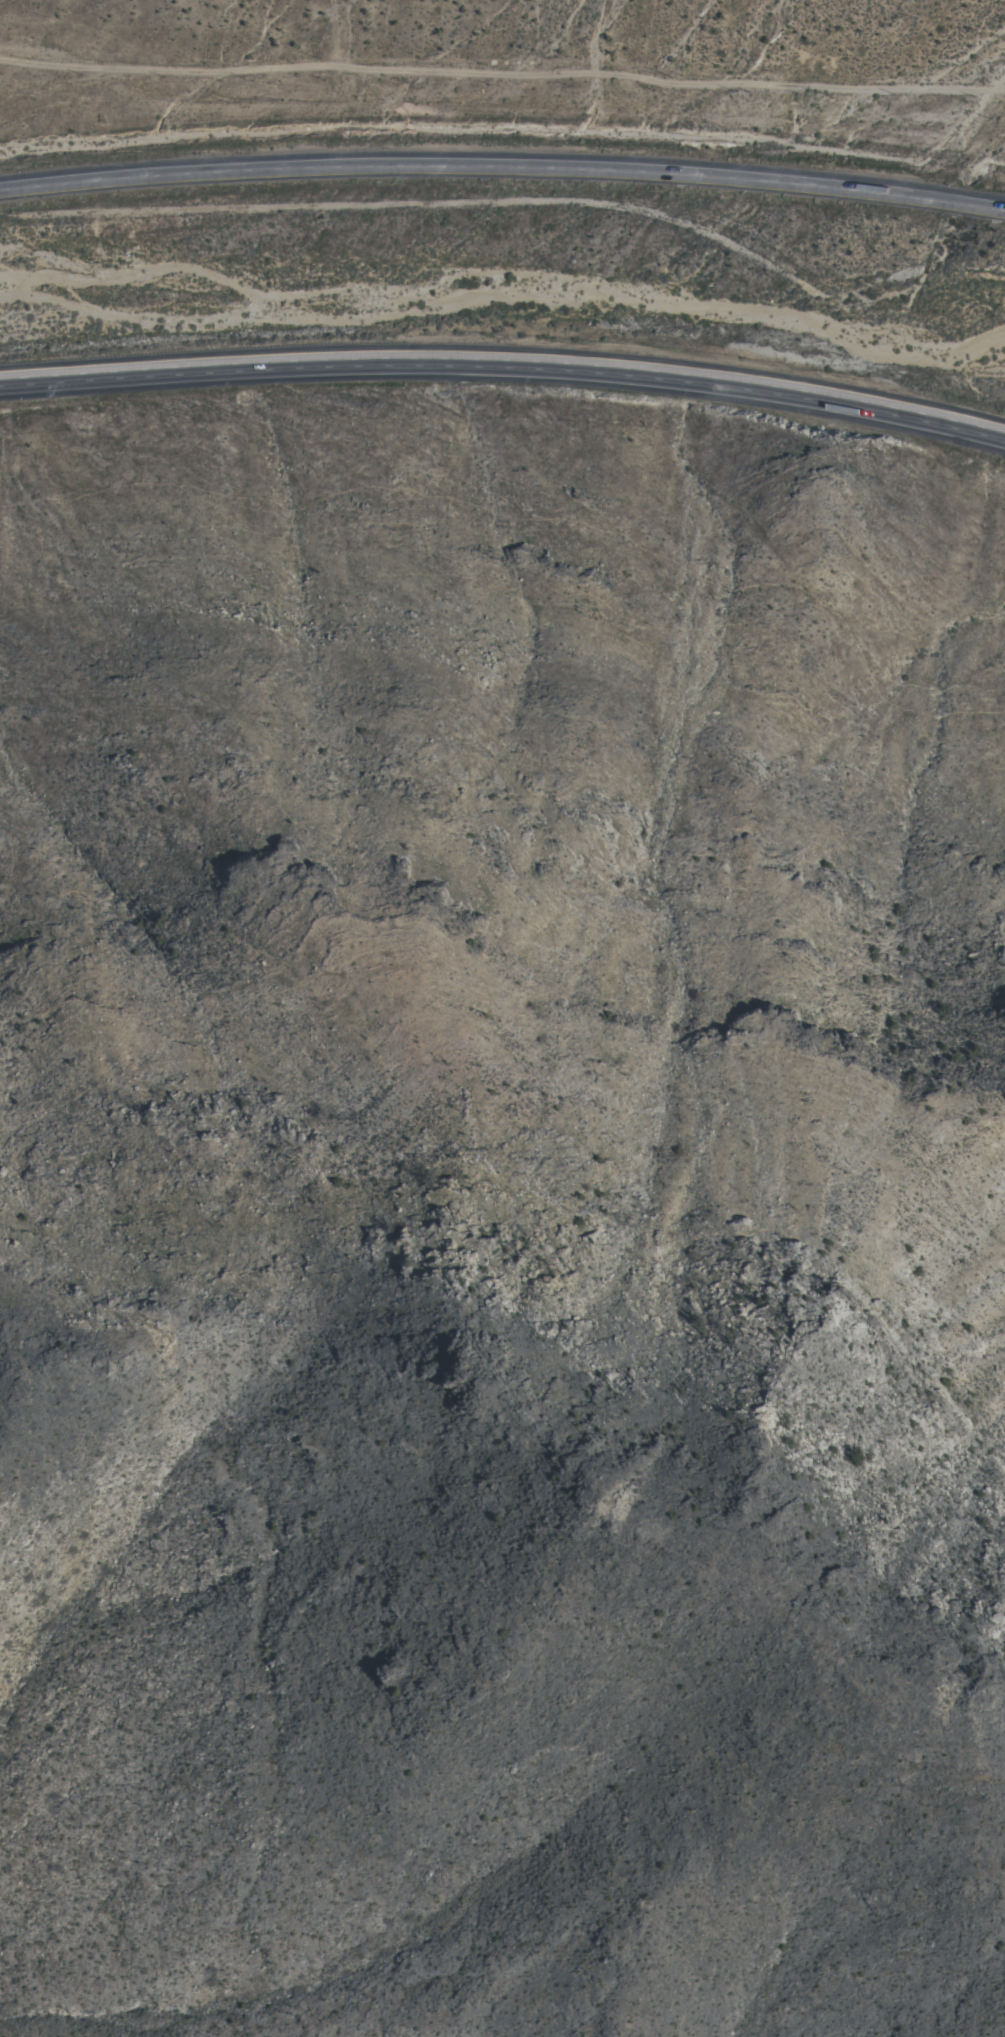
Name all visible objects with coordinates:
road: (342, 33)
road: (503, 71)
road: (989, 90)
road: (503, 165)
railway: (505, 289)
road: (505, 366)

